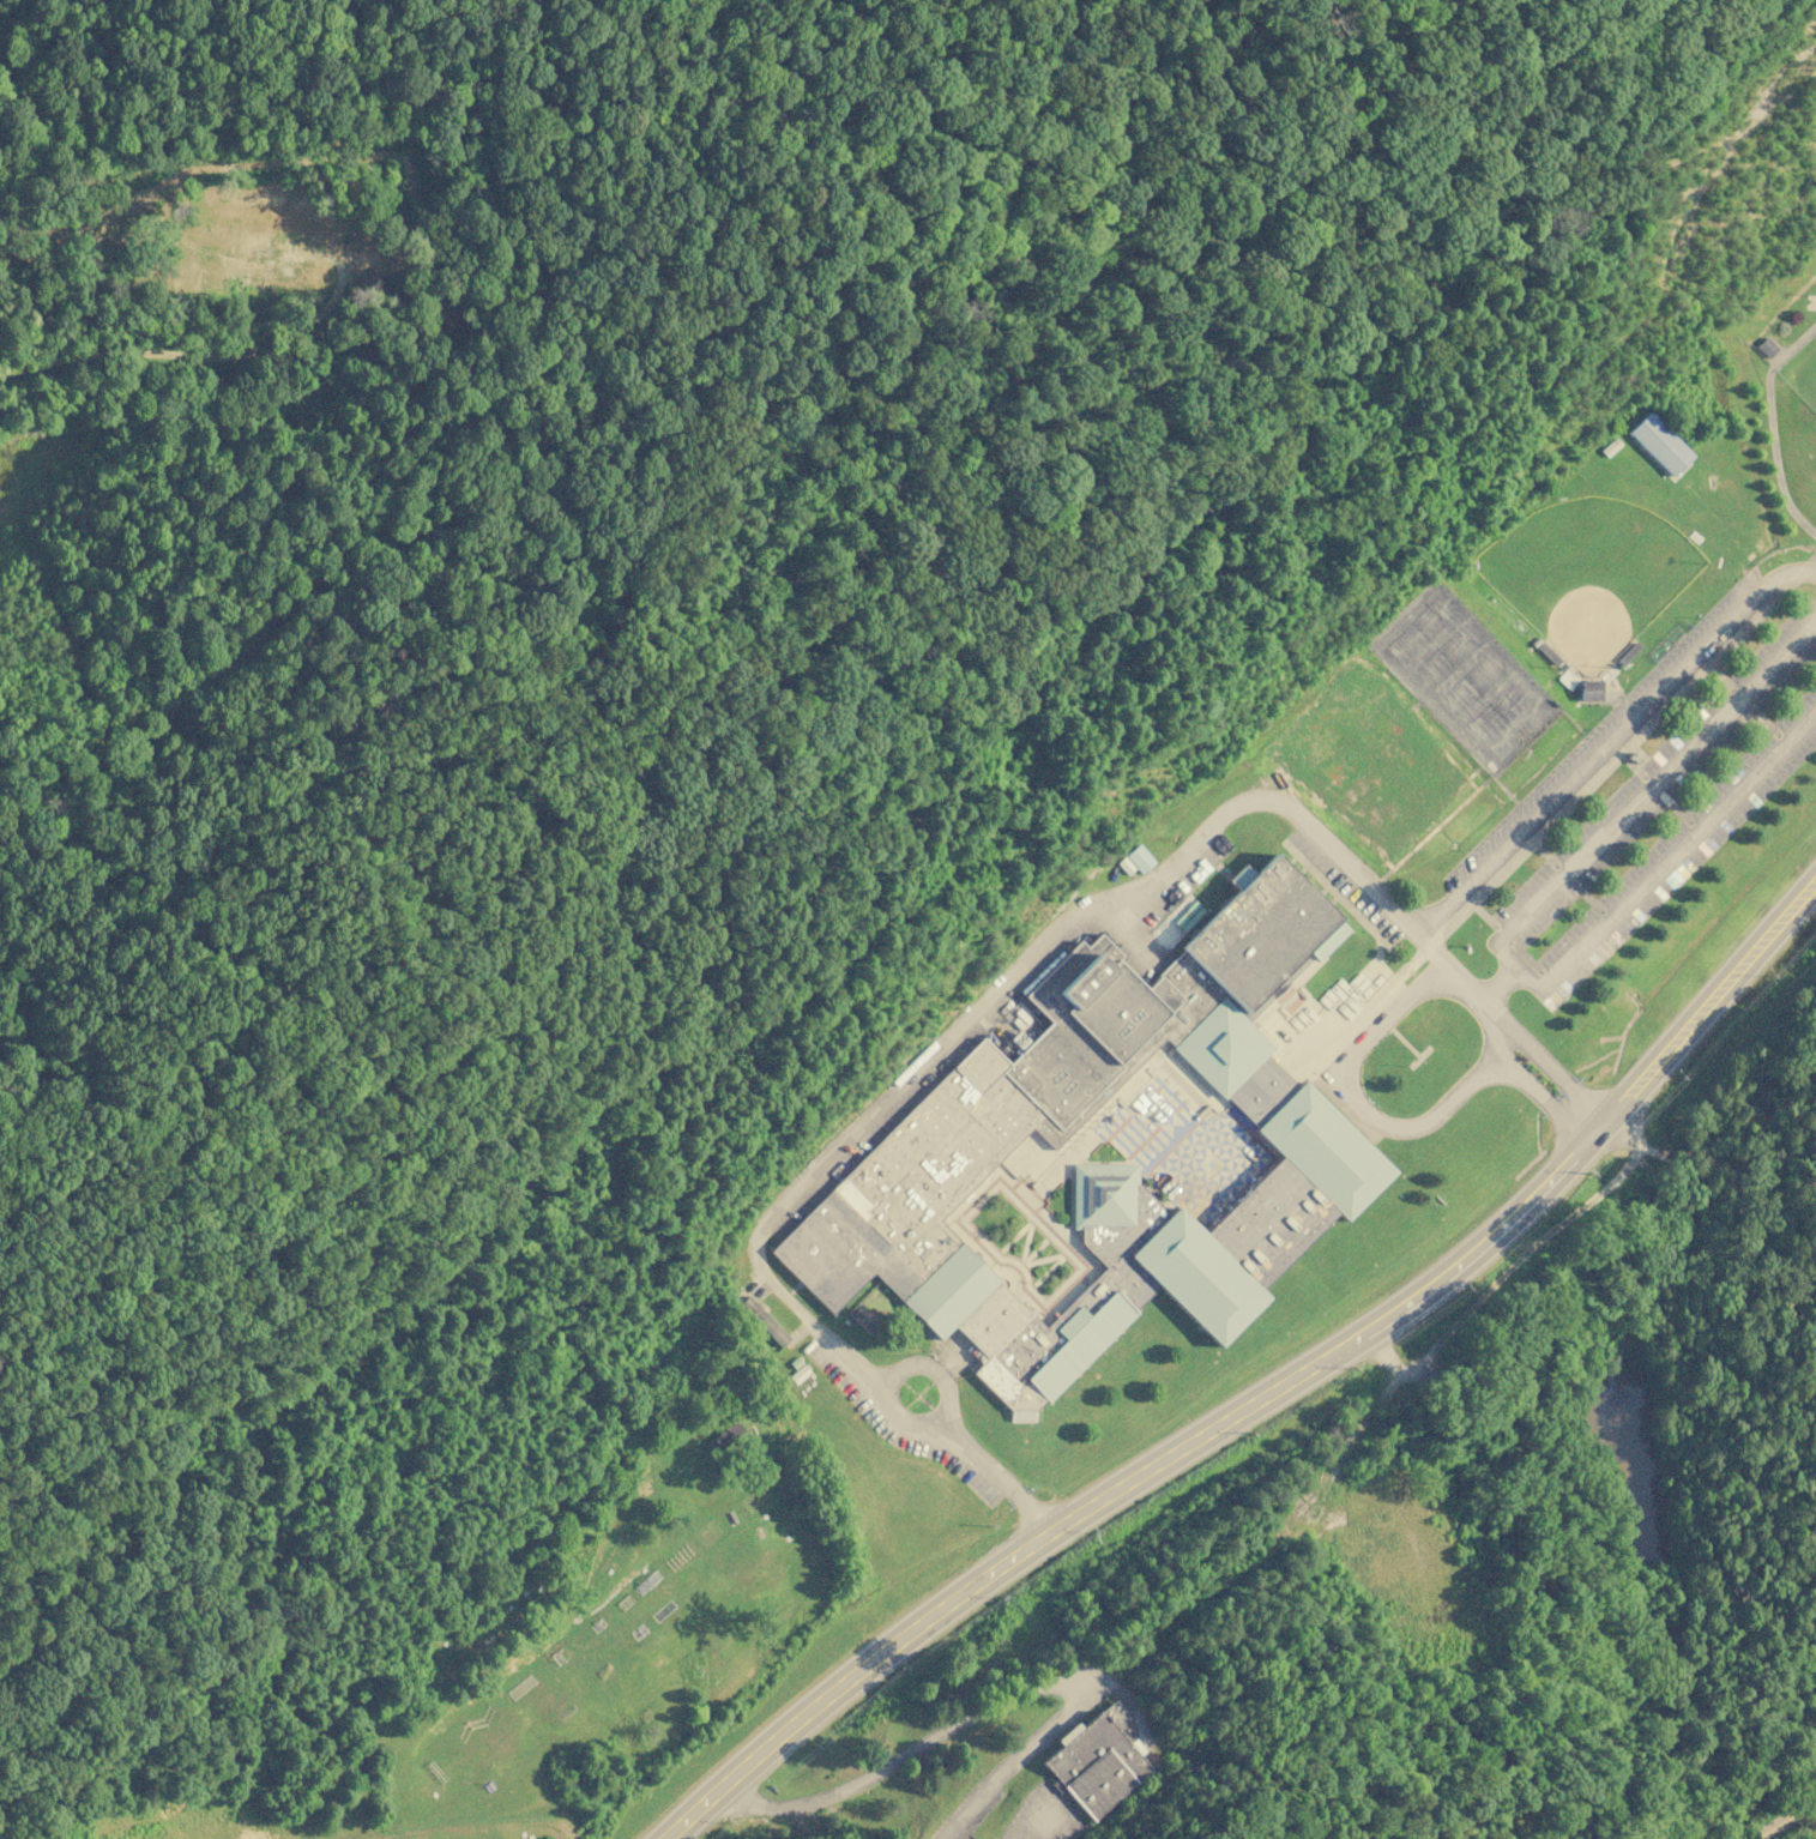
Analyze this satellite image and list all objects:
building: (1766, 348)
park: (1802, 373)
building: (1659, 445)
building: (1610, 447)
road: (1788, 574)
park: (1588, 575)
building: (1547, 655)
building: (1628, 655)
park: (1465, 677)
building: (1589, 692)
park: (1364, 709)
parking lot: (1603, 738)
park: (659, 742)
park: (1317, 754)
road: (1592, 760)
park: (1425, 773)
road: (1654, 783)
park: (1378, 819)
parking lot: (1664, 819)
road: (1677, 851)
building: (1139, 857)
road: (1086, 908)
road: (1516, 969)
road: (1501, 987)
road: (1701, 997)
road: (1708, 1019)
road: (1540, 1099)
road: (1368, 1110)
building: (948, 1139)
building: (1008, 1157)
building: (764, 1321)
building: (750, 1345)
building: (770, 1351)
building: (797, 1376)
road: (887, 1392)
building: (722, 1440)
road: (994, 1473)
road: (1129, 1481)
road: (997, 1702)
building: (1097, 1759)
road: (1786, 1819)
road: (1044, 1822)

